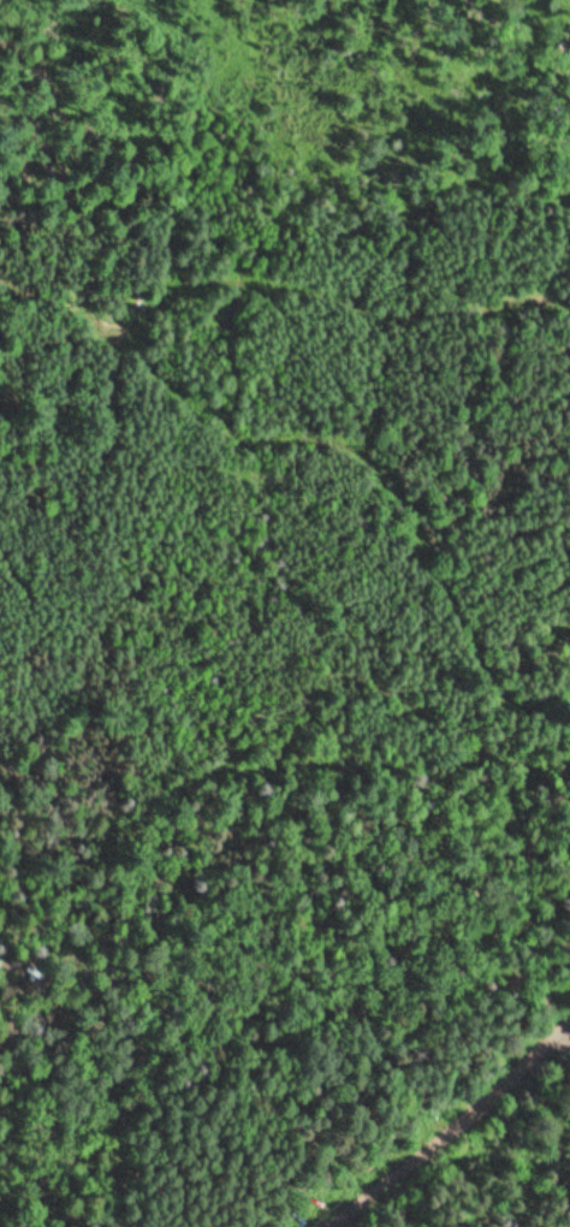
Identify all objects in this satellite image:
road: (458, 1131)

